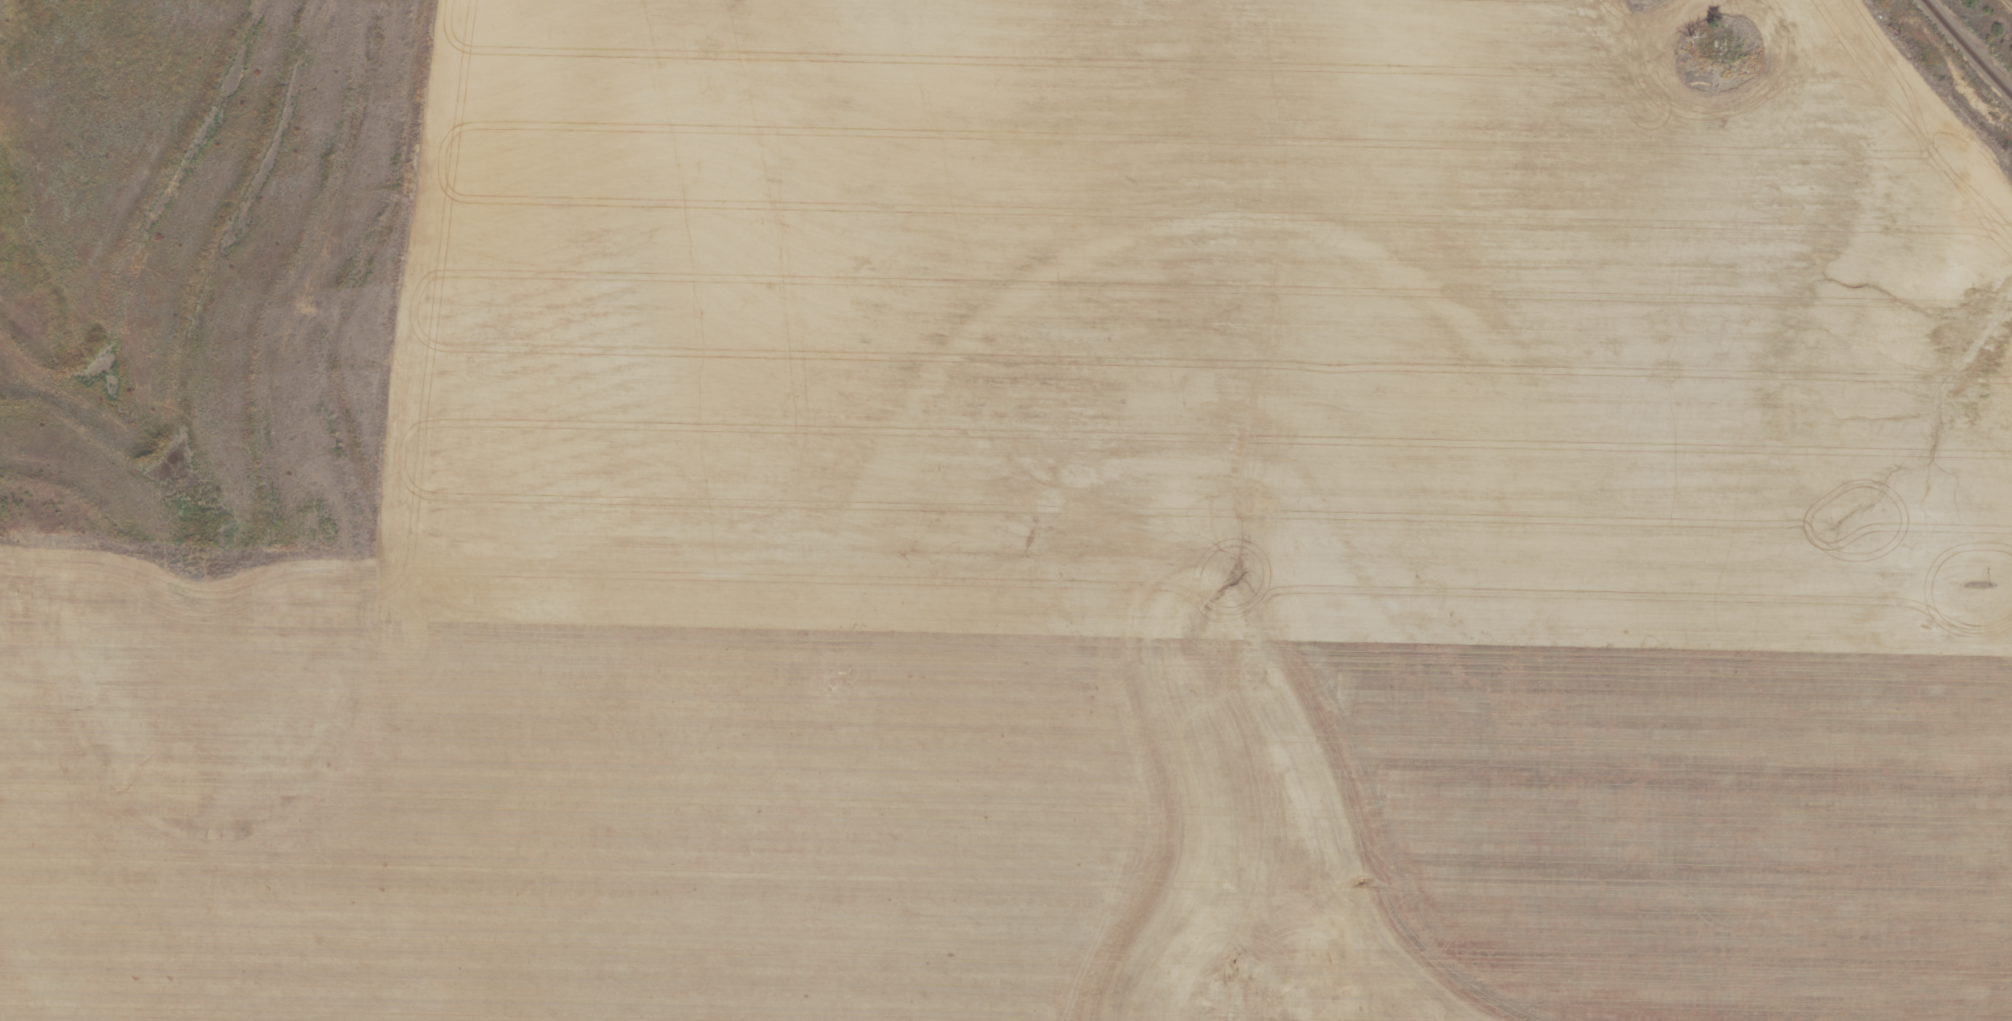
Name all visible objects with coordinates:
road: (2005, 6)
railway: (1967, 49)

